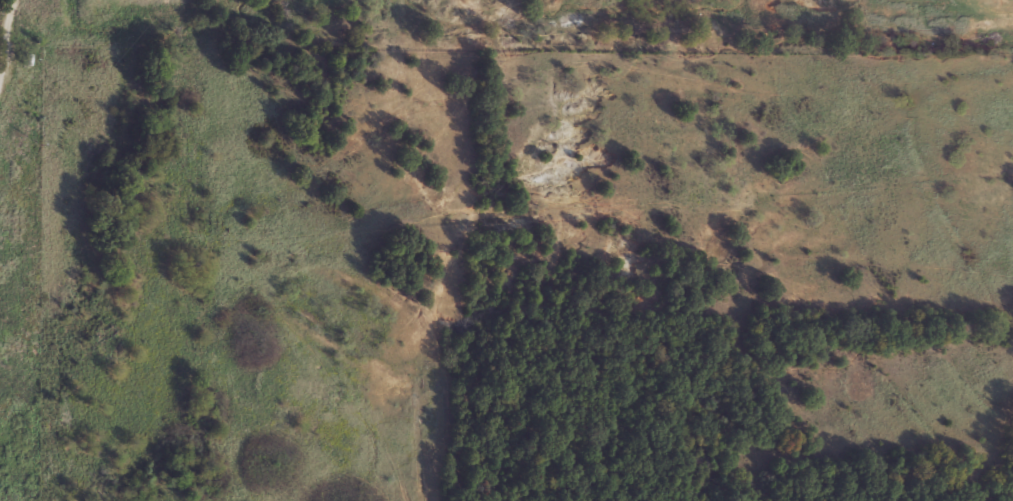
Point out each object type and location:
road: (16, 83)

